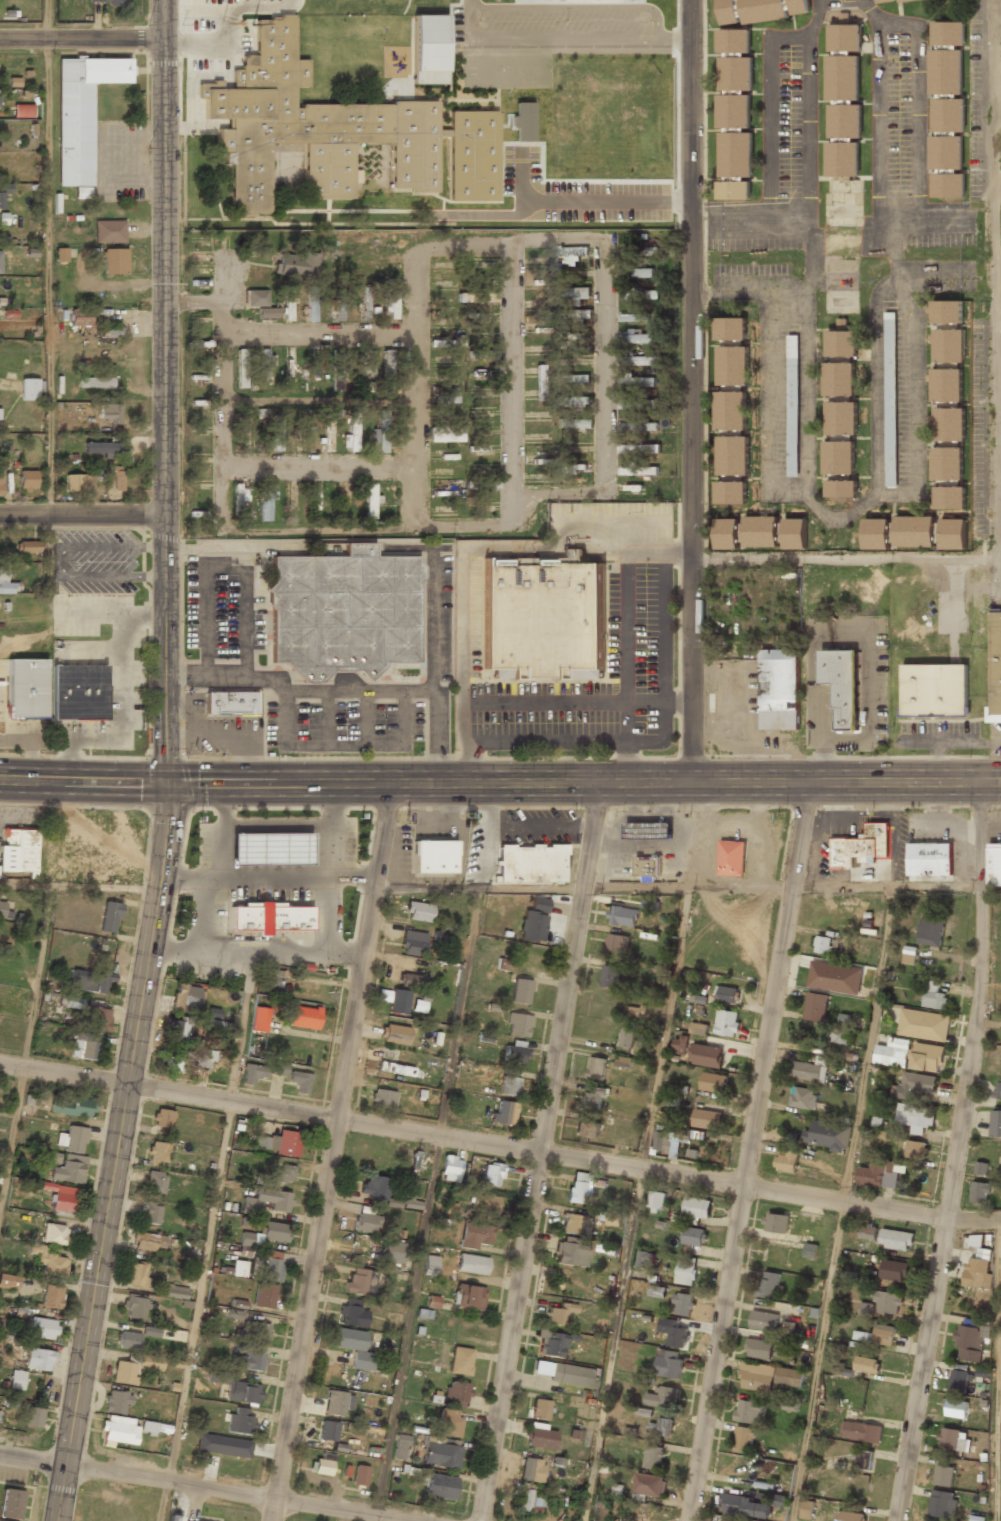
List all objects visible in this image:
building: (890, 1)
building: (107, 2)
building: (798, 7)
building: (751, 11)
road: (46, 20)
road: (81, 40)
building: (734, 41)
building: (428, 50)
building: (735, 73)
building: (843, 100)
building: (23, 110)
building: (947, 110)
building: (734, 111)
building: (80, 112)
building: (335, 132)
building: (735, 154)
building: (554, 169)
building: (734, 189)
building: (0, 200)
building: (109, 231)
building: (569, 253)
building: (61, 254)
building: (0, 261)
building: (115, 261)
building: (297, 264)
building: (637, 273)
road: (48, 278)
building: (580, 295)
building: (638, 295)
building: (476, 297)
building: (286, 302)
building: (260, 304)
building: (364, 305)
building: (310, 306)
building: (390, 307)
building: (336, 309)
building: (946, 313)
building: (574, 314)
building: (637, 317)
building: (80, 318)
building: (730, 328)
building: (537, 331)
building: (110, 332)
building: (636, 338)
building: (572, 340)
building: (840, 344)
building: (949, 346)
building: (485, 355)
building: (565, 359)
building: (641, 361)
building: (337, 363)
building: (264, 364)
building: (733, 365)
building: (241, 369)
building: (366, 370)
building: (387, 370)
building: (313, 377)
building: (839, 379)
building: (446, 380)
building: (574, 380)
building: (94, 382)
building: (636, 383)
building: (539, 384)
building: (335, 385)
building: (947, 385)
building: (28, 390)
road: (163, 391)
road: (691, 391)
building: (477, 393)
building: (447, 398)
building: (890, 399)
building: (571, 402)
building: (636, 403)
building: (477, 411)
building: (731, 411)
building: (110, 413)
building: (792, 417)
building: (540, 418)
building: (841, 418)
building: (950, 424)
building: (574, 425)
building: (639, 427)
building: (250, 432)
building: (380, 433)
building: (274, 434)
building: (444, 435)
building: (300, 436)
building: (326, 438)
building: (348, 441)
building: (101, 448)
building: (639, 448)
building: (483, 450)
building: (733, 456)
building: (839, 458)
building: (947, 463)
building: (569, 468)
building: (638, 470)
building: (27, 479)
building: (115, 479)
building: (76, 484)
building: (474, 484)
building: (1, 485)
building: (841, 489)
building: (636, 491)
building: (731, 493)
building: (239, 497)
building: (949, 497)
building: (289, 501)
building: (370, 502)
building: (265, 503)
building: (316, 503)
building: (341, 504)
building: (445, 514)
road: (82, 516)
building: (760, 532)
building: (914, 532)
building: (726, 534)
building: (795, 534)
building: (876, 534)
building: (952, 534)
building: (27, 547)
building: (6, 583)
building: (344, 612)
building: (543, 618)
building: (995, 667)
building: (841, 686)
building: (24, 690)
building: (778, 690)
building: (935, 691)
building: (76, 693)
building: (230, 703)
traffic signals: (165, 783)
road: (500, 784)
building: (648, 830)
building: (860, 846)
building: (270, 849)
gas station: (270, 849)
building: (18, 851)
building: (433, 856)
building: (732, 858)
building: (929, 859)
building: (531, 863)
building: (994, 864)
building: (647, 866)
road: (78, 884)
road: (677, 888)
building: (651, 904)
building: (418, 911)
building: (4, 912)
building: (110, 916)
building: (623, 916)
building: (269, 917)
building: (534, 920)
building: (931, 931)
building: (444, 932)
building: (616, 942)
building: (413, 943)
building: (823, 944)
road: (256, 953)
building: (909, 954)
building: (505, 964)
road: (39, 975)
building: (610, 976)
building: (270, 977)
building: (835, 977)
building: (90, 980)
building: (411, 981)
building: (520, 991)
building: (727, 994)
building: (933, 995)
building: (185, 997)
building: (394, 1000)
building: (73, 1002)
building: (419, 1005)
building: (816, 1006)
building: (637, 1011)
building: (304, 1017)
building: (97, 1018)
building: (259, 1019)
building: (727, 1022)
building: (518, 1024)
building: (924, 1024)
building: (217, 1027)
building: (698, 1028)
building: (842, 1029)
building: (177, 1030)
building: (394, 1034)
building: (627, 1036)
building: (81, 1045)
building: (680, 1045)
building: (515, 1051)
building: (893, 1052)
building: (706, 1055)
building: (928, 1057)
building: (203, 1058)
building: (174, 1064)
building: (395, 1068)
building: (596, 1068)
building: (810, 1069)
building: (261, 1071)
building: (299, 1081)
building: (713, 1082)
building: (919, 1082)
building: (509, 1086)
building: (997, 1091)
building: (803, 1097)
building: (593, 1098)
building: (383, 1099)
building: (72, 1107)
building: (503, 1113)
building: (915, 1117)
building: (162, 1118)
building: (706, 1119)
building: (996, 1123)
building: (587, 1128)
building: (829, 1135)
road: (11, 1137)
building: (72, 1139)
building: (280, 1142)
building: (667, 1142)
road: (499, 1146)
building: (916, 1149)
road: (747, 1150)
building: (157, 1151)
road: (538, 1151)
road: (331, 1152)
road: (954, 1152)
road: (120, 1153)
building: (52, 1157)
building: (786, 1159)
building: (416, 1160)
building: (981, 1167)
building: (69, 1169)
building: (450, 1169)
building: (284, 1172)
building: (491, 1174)
building: (878, 1174)
building: (155, 1182)
building: (581, 1187)
building: (979, 1191)
building: (656, 1199)
building: (266, 1201)
building: (62, 1202)
road: (635, 1203)
road: (427, 1204)
building: (485, 1204)
road: (843, 1205)
building: (697, 1207)
building: (150, 1212)
building: (613, 1219)
building: (365, 1221)
building: (777, 1222)
building: (577, 1224)
building: (868, 1231)
building: (55, 1234)
building: (264, 1234)
building: (474, 1235)
road: (207, 1236)
building: (694, 1236)
building: (896, 1239)
building: (149, 1241)
building: (810, 1250)
building: (393, 1252)
building: (572, 1252)
building: (645, 1258)
building: (48, 1260)
building: (471, 1264)
building: (430, 1265)
building: (237, 1268)
building: (272, 1269)
building: (686, 1270)
building: (894, 1270)
building: (977, 1273)
building: (136, 1275)
building: (360, 1281)
building: (8, 1282)
building: (768, 1284)
building: (172, 1291)
building: (657, 1291)
building: (264, 1295)
building: (52, 1296)
building: (468, 1296)
building: (432, 1301)
building: (888, 1302)
building: (683, 1303)
building: (135, 1306)
building: (865, 1309)
building: (352, 1313)
building: (560, 1313)
building: (763, 1320)
building: (42, 1328)
building: (150, 1331)
building: (675, 1333)
building: (884, 1334)
building: (863, 1336)
building: (127, 1340)
building: (971, 1340)
building: (551, 1343)
building: (249, 1346)
building: (760, 1347)
building: (354, 1348)
building: (39, 1359)
building: (460, 1360)
building: (150, 1362)
building: (668, 1364)
building: (866, 1364)
road: (998, 1369)
building: (124, 1372)
building: (565, 1374)
building: (757, 1376)
building: (789, 1376)
building: (17, 1379)
building: (241, 1390)
building: (456, 1394)
building: (957, 1394)
building: (663, 1397)
building: (117, 1402)
building: (337, 1403)
building: (783, 1405)
building: (540, 1409)
building: (750, 1411)
building: (33, 1417)
building: (240, 1422)
building: (448, 1423)
building: (661, 1426)
building: (125, 1429)
building: (327, 1430)
building: (861, 1431)
building: (574, 1434)
building: (540, 1436)
building: (744, 1439)
building: (954, 1439)
building: (223, 1445)
building: (400, 1446)
building: (441, 1452)
building: (653, 1456)
building: (863, 1459)
building: (322, 1465)
building: (531, 1470)
building: (360, 1475)
building: (944, 1475)
building: (649, 1484)
building: (440, 1486)
road: (156, 1494)
building: (764, 1497)
building: (780, 1500)
building: (943, 1503)
building: (9, 1504)
building: (745, 1505)
building: (808, 1509)
building: (602, 1511)
building: (850, 1516)
building: (728, 1520)

